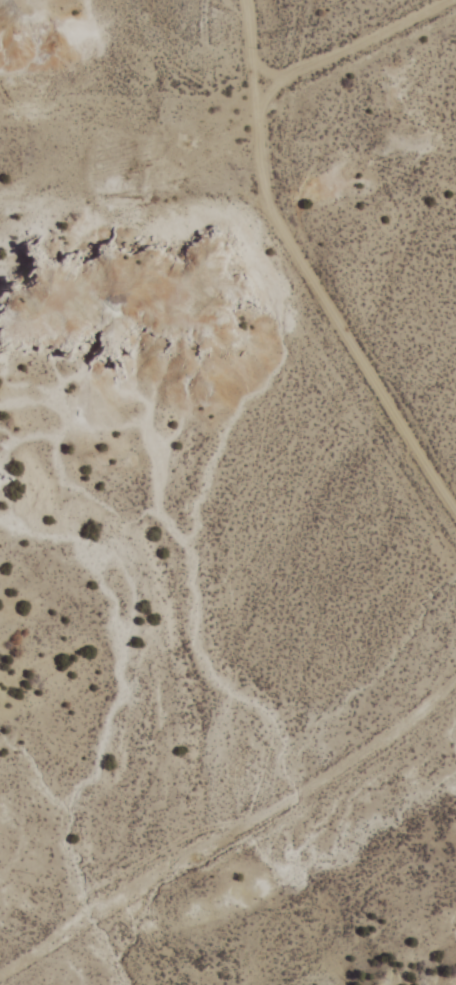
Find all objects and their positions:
road: (324, 226)

